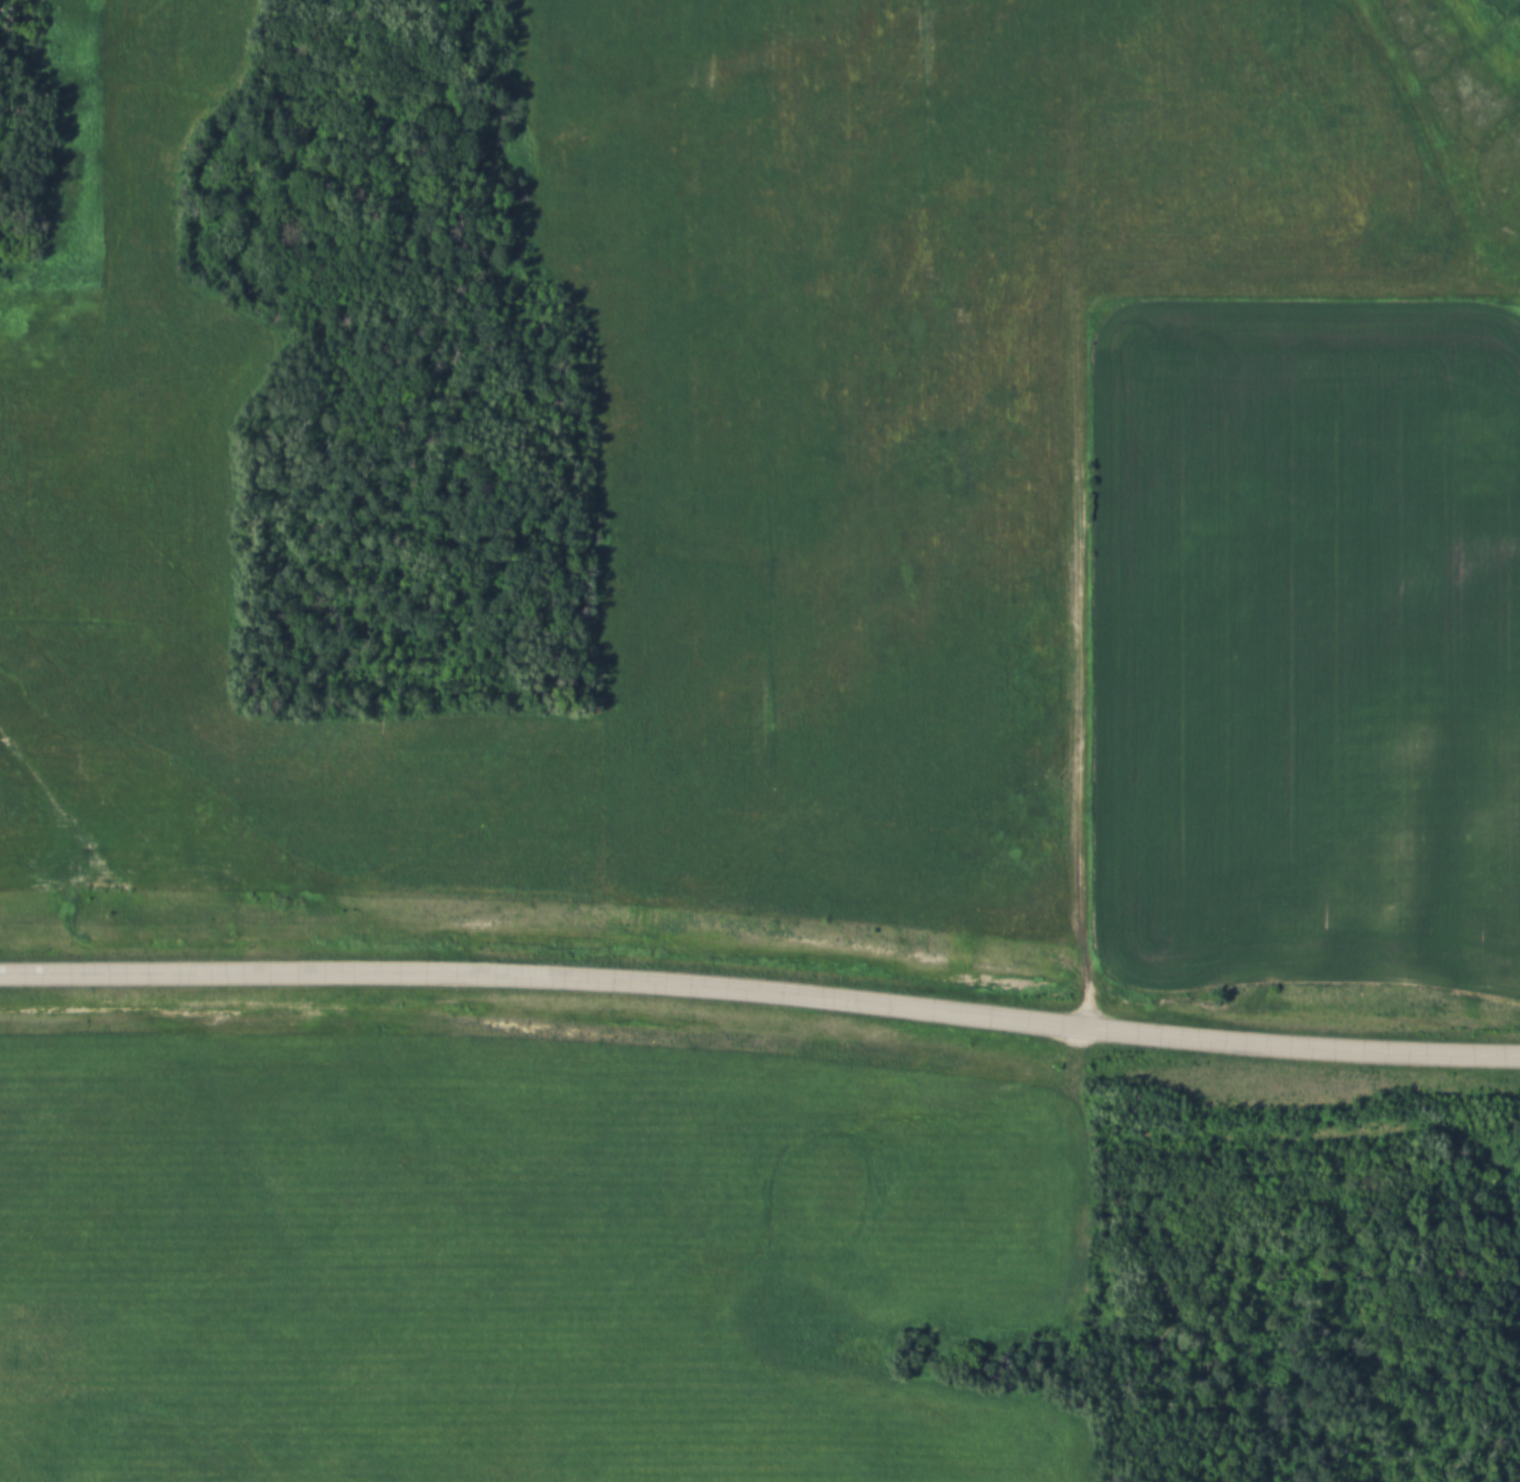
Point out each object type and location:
road: (1072, 447)
road: (761, 989)

